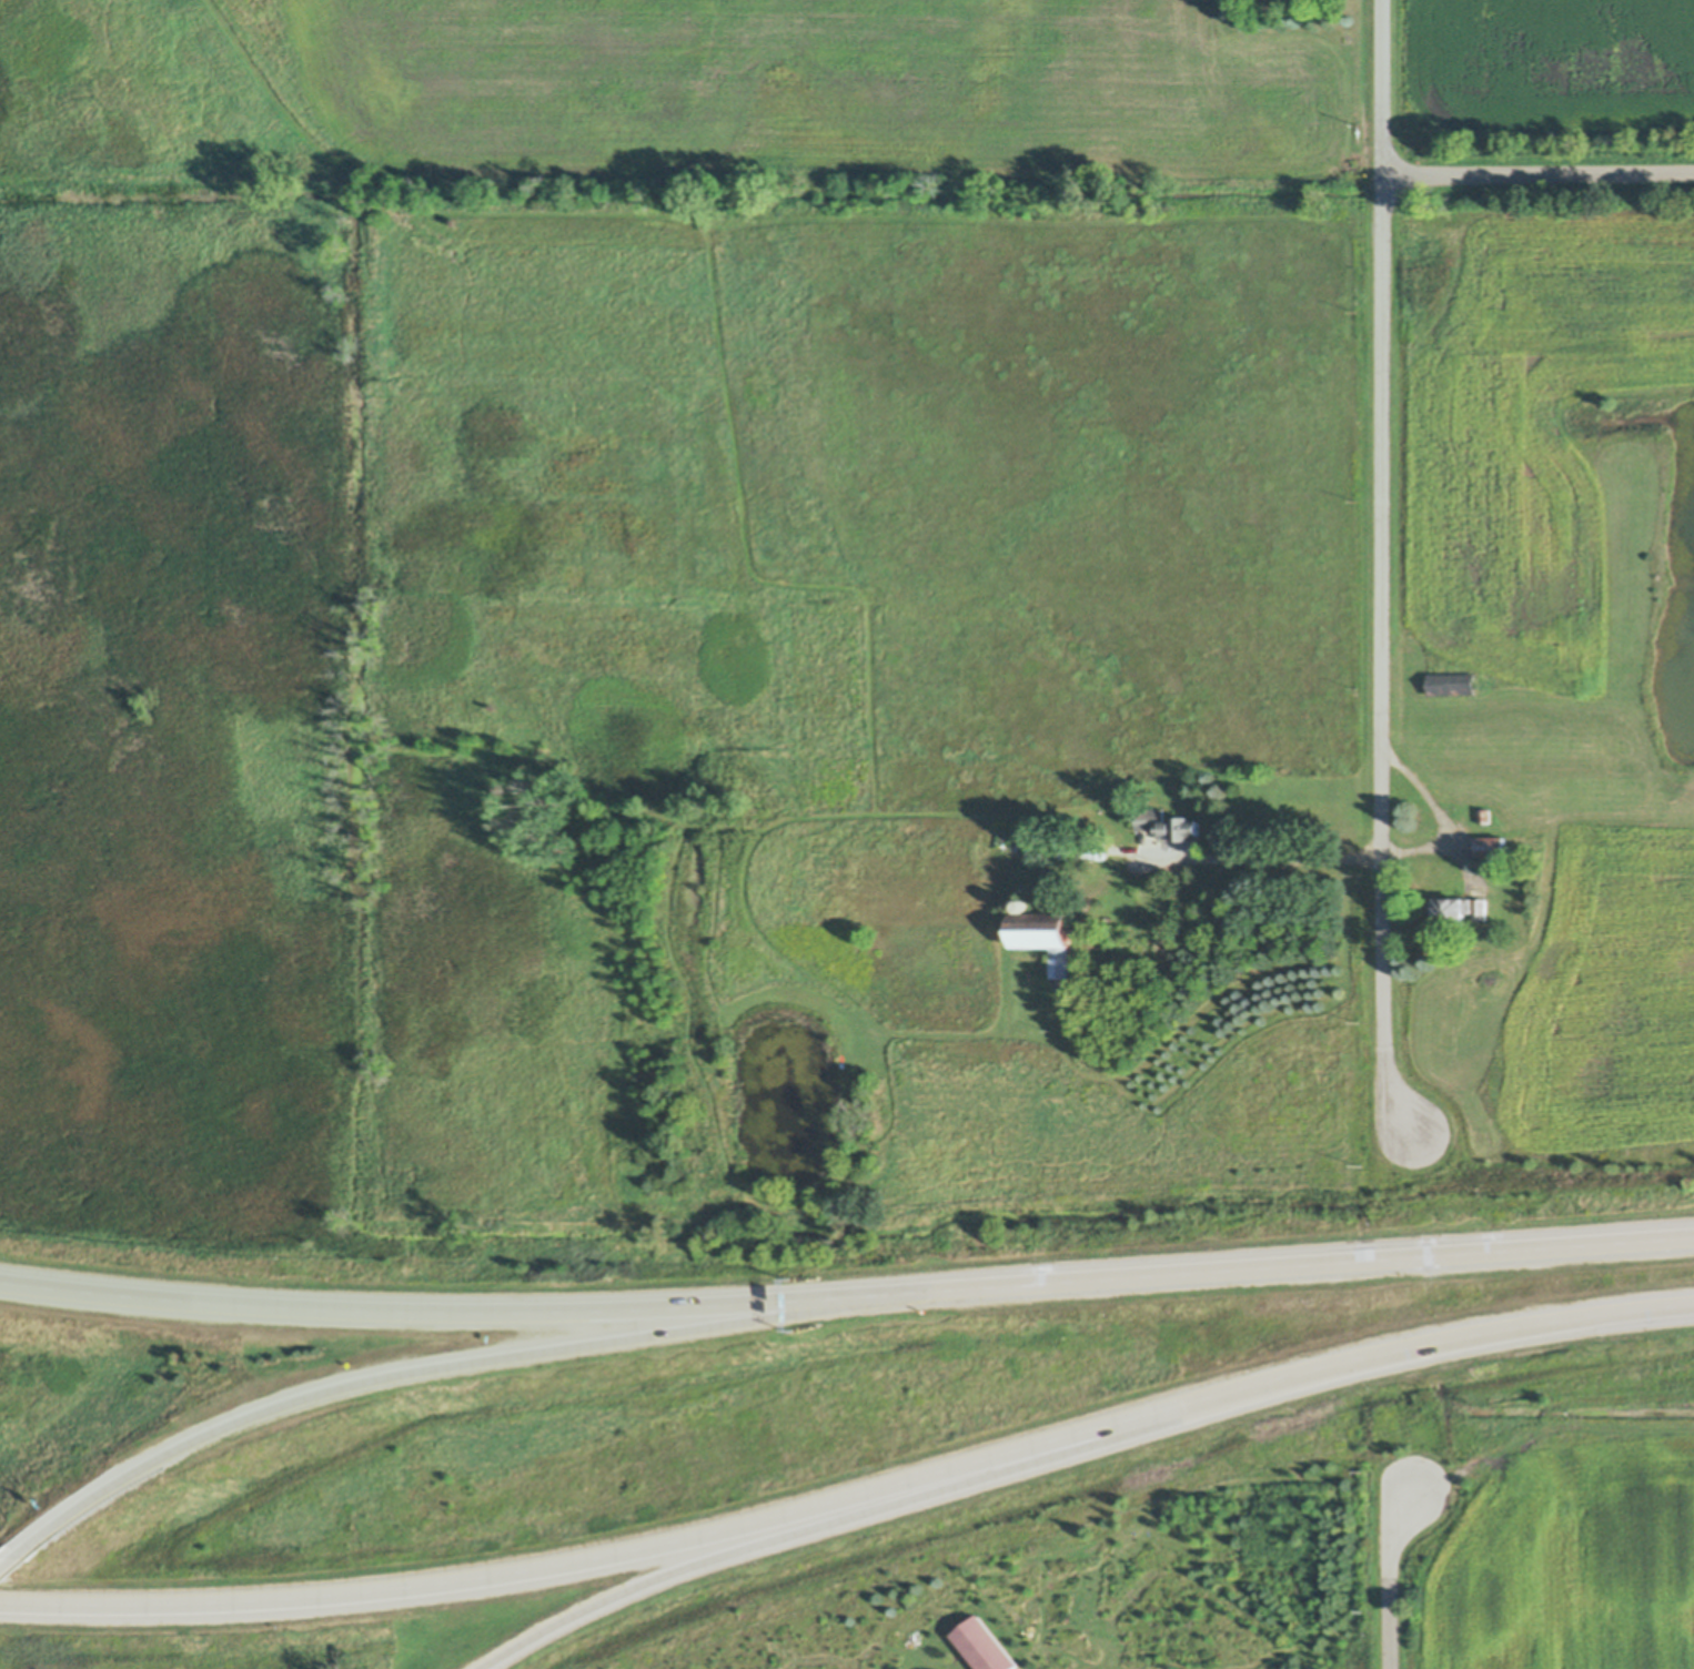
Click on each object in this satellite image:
road: (1537, 175)
road: (1384, 570)
building: (1452, 684)
road: (1442, 811)
building: (1483, 815)
building: (1169, 826)
building: (1491, 848)
building: (1085, 849)
road: (1264, 854)
building: (1516, 879)
building: (1027, 902)
building: (1461, 910)
building: (1047, 934)
road: (1344, 1263)
road: (496, 1308)
road: (494, 1361)
building: (1553, 1412)
road: (1551, 1417)
road: (853, 1496)
road: (834, 1523)
road: (16, 1561)
road: (1389, 1577)
building: (980, 1647)

